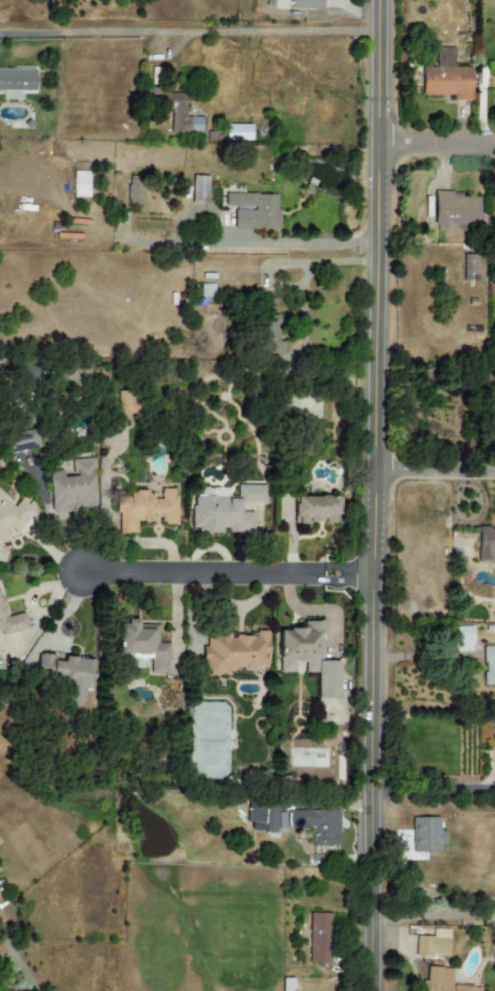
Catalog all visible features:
building: (308, 7)
road: (189, 32)
building: (446, 79)
building: (19, 85)
building: (494, 89)
building: (85, 108)
building: (180, 112)
building: (239, 133)
road: (437, 140)
building: (80, 183)
building: (199, 189)
building: (136, 192)
building: (255, 209)
building: (453, 211)
road: (259, 241)
building: (470, 268)
road: (312, 269)
building: (208, 290)
building: (76, 375)
building: (129, 402)
building: (21, 441)
road: (436, 464)
building: (72, 490)
road: (377, 495)
building: (145, 509)
building: (314, 509)
building: (225, 510)
building: (488, 539)
road: (231, 558)
road: (67, 609)
building: (11, 620)
building: (463, 639)
building: (142, 644)
building: (234, 653)
building: (308, 656)
building: (489, 665)
building: (66, 672)
building: (494, 735)
building: (494, 739)
road: (435, 789)
building: (259, 816)
building: (313, 824)
building: (426, 835)
road: (430, 893)
road: (434, 916)
building: (319, 937)
building: (433, 943)
road: (20, 954)
building: (442, 981)

